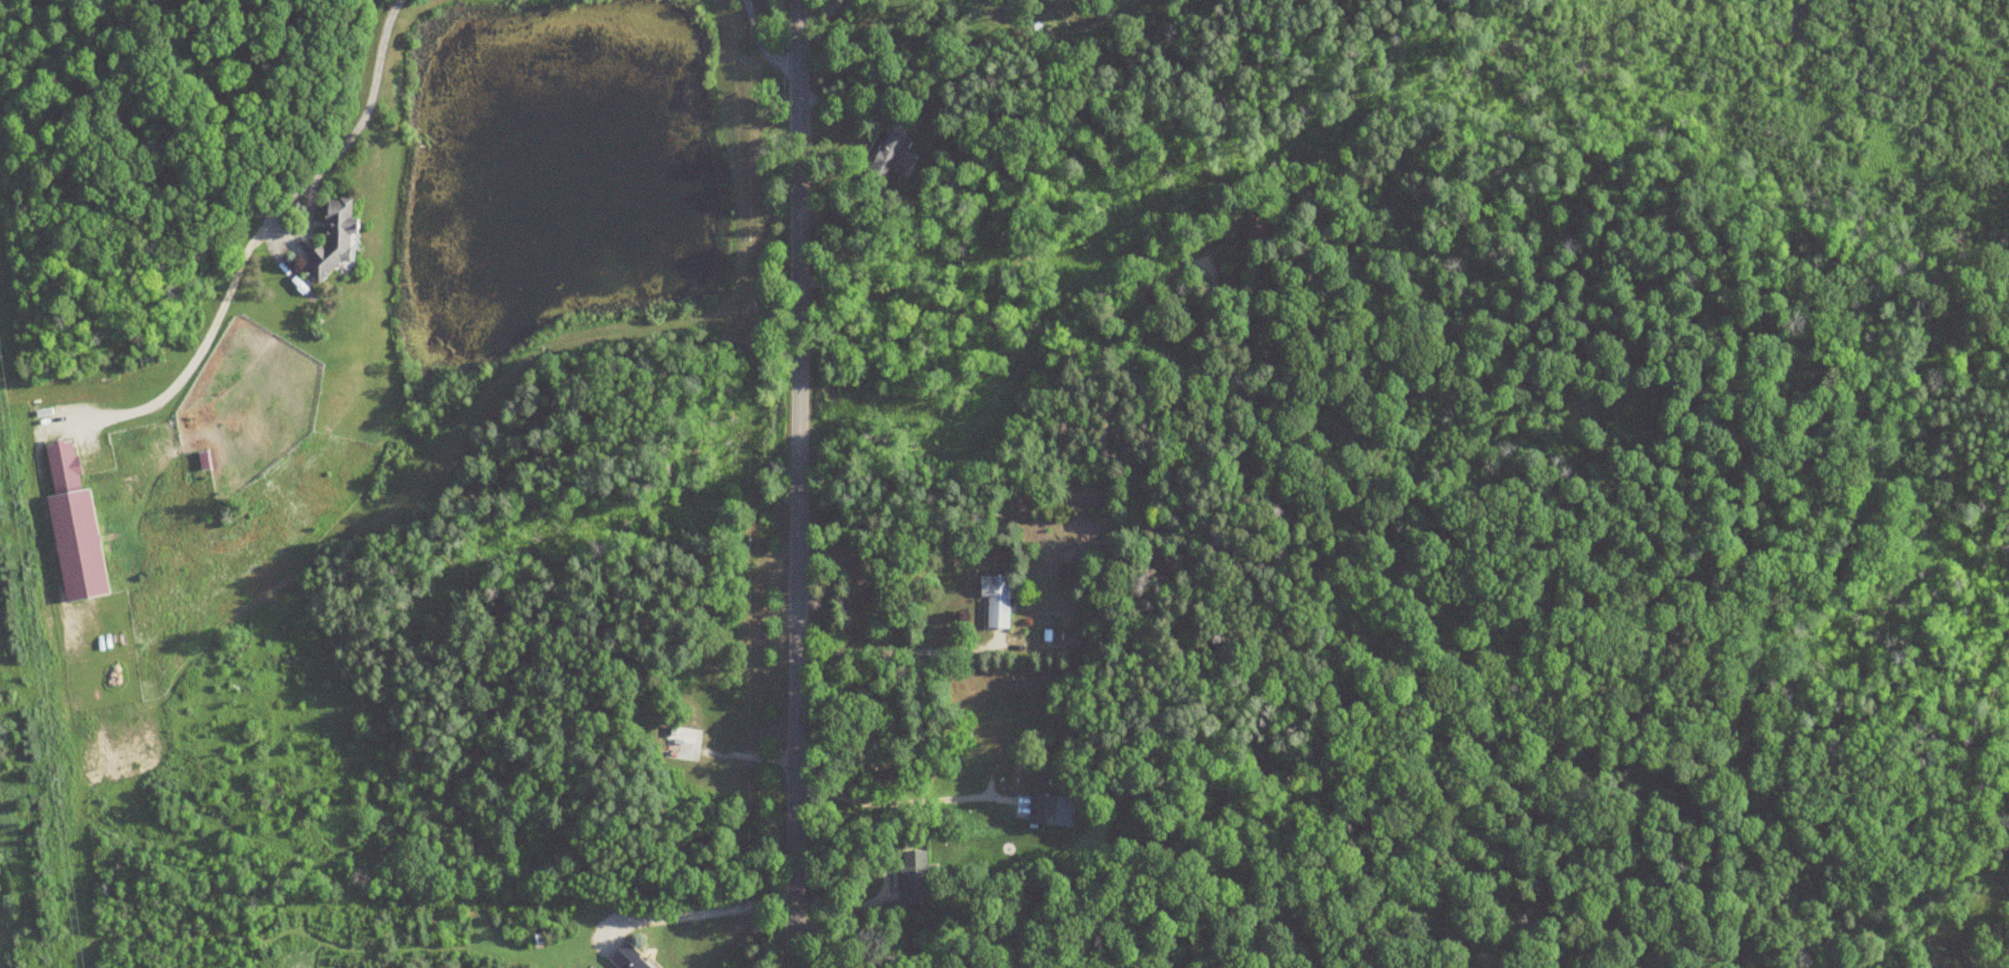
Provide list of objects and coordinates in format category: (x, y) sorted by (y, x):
building: (884, 156)
building: (1253, 231)
building: (329, 240)
building: (60, 464)
road: (794, 484)
building: (77, 571)
building: (993, 601)
building: (676, 745)
building: (1038, 810)
building: (913, 878)
building: (625, 958)

